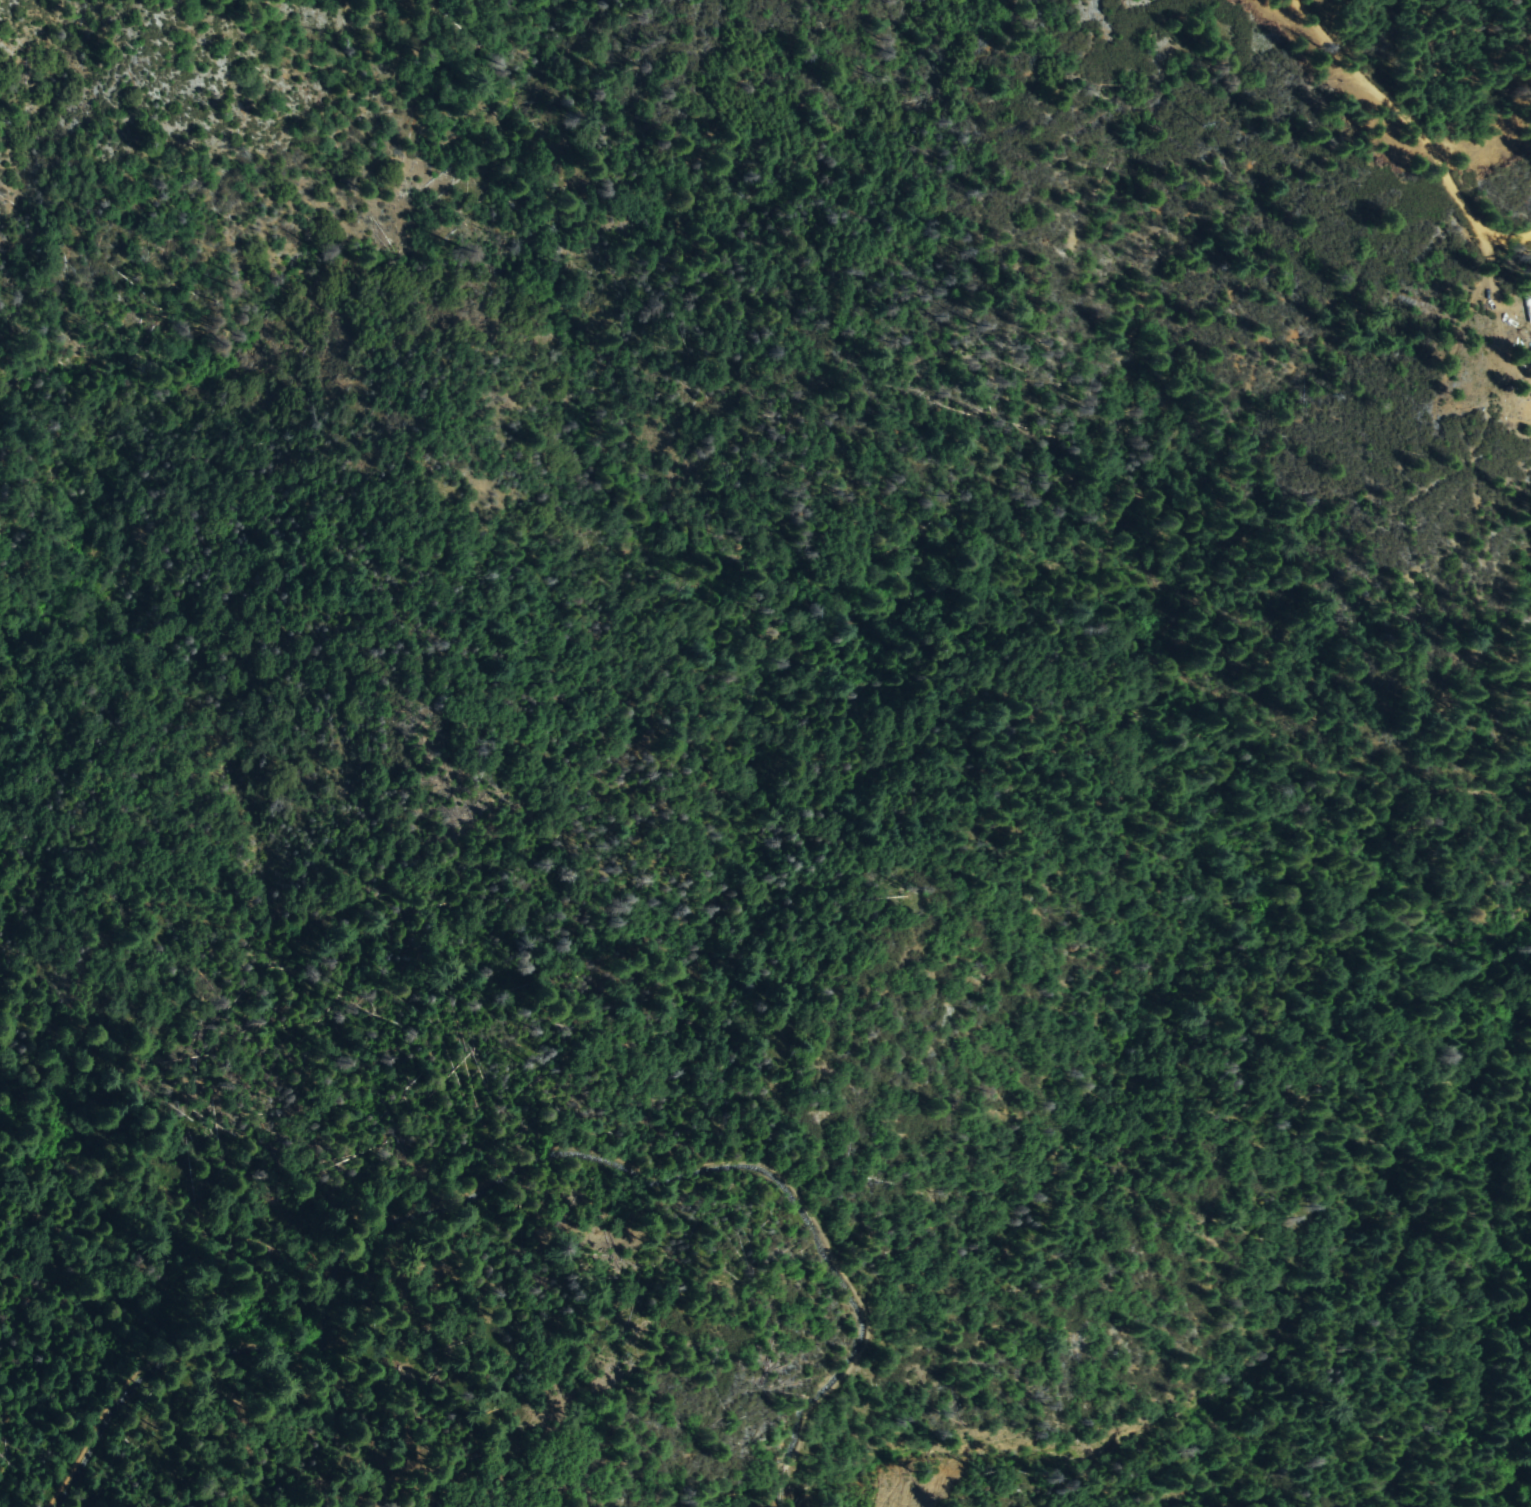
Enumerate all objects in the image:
road: (1408, 130)
building: (1528, 307)

